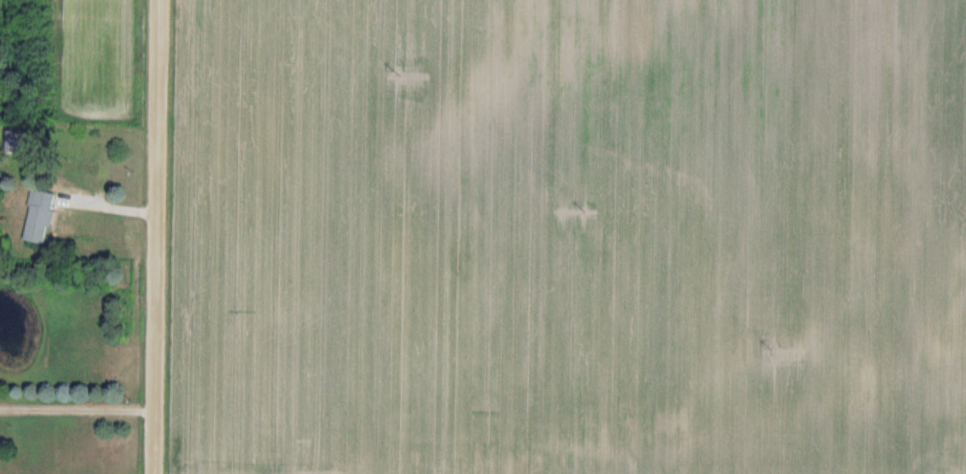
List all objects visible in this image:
building: (43, 217)
road: (162, 237)
road: (80, 409)

